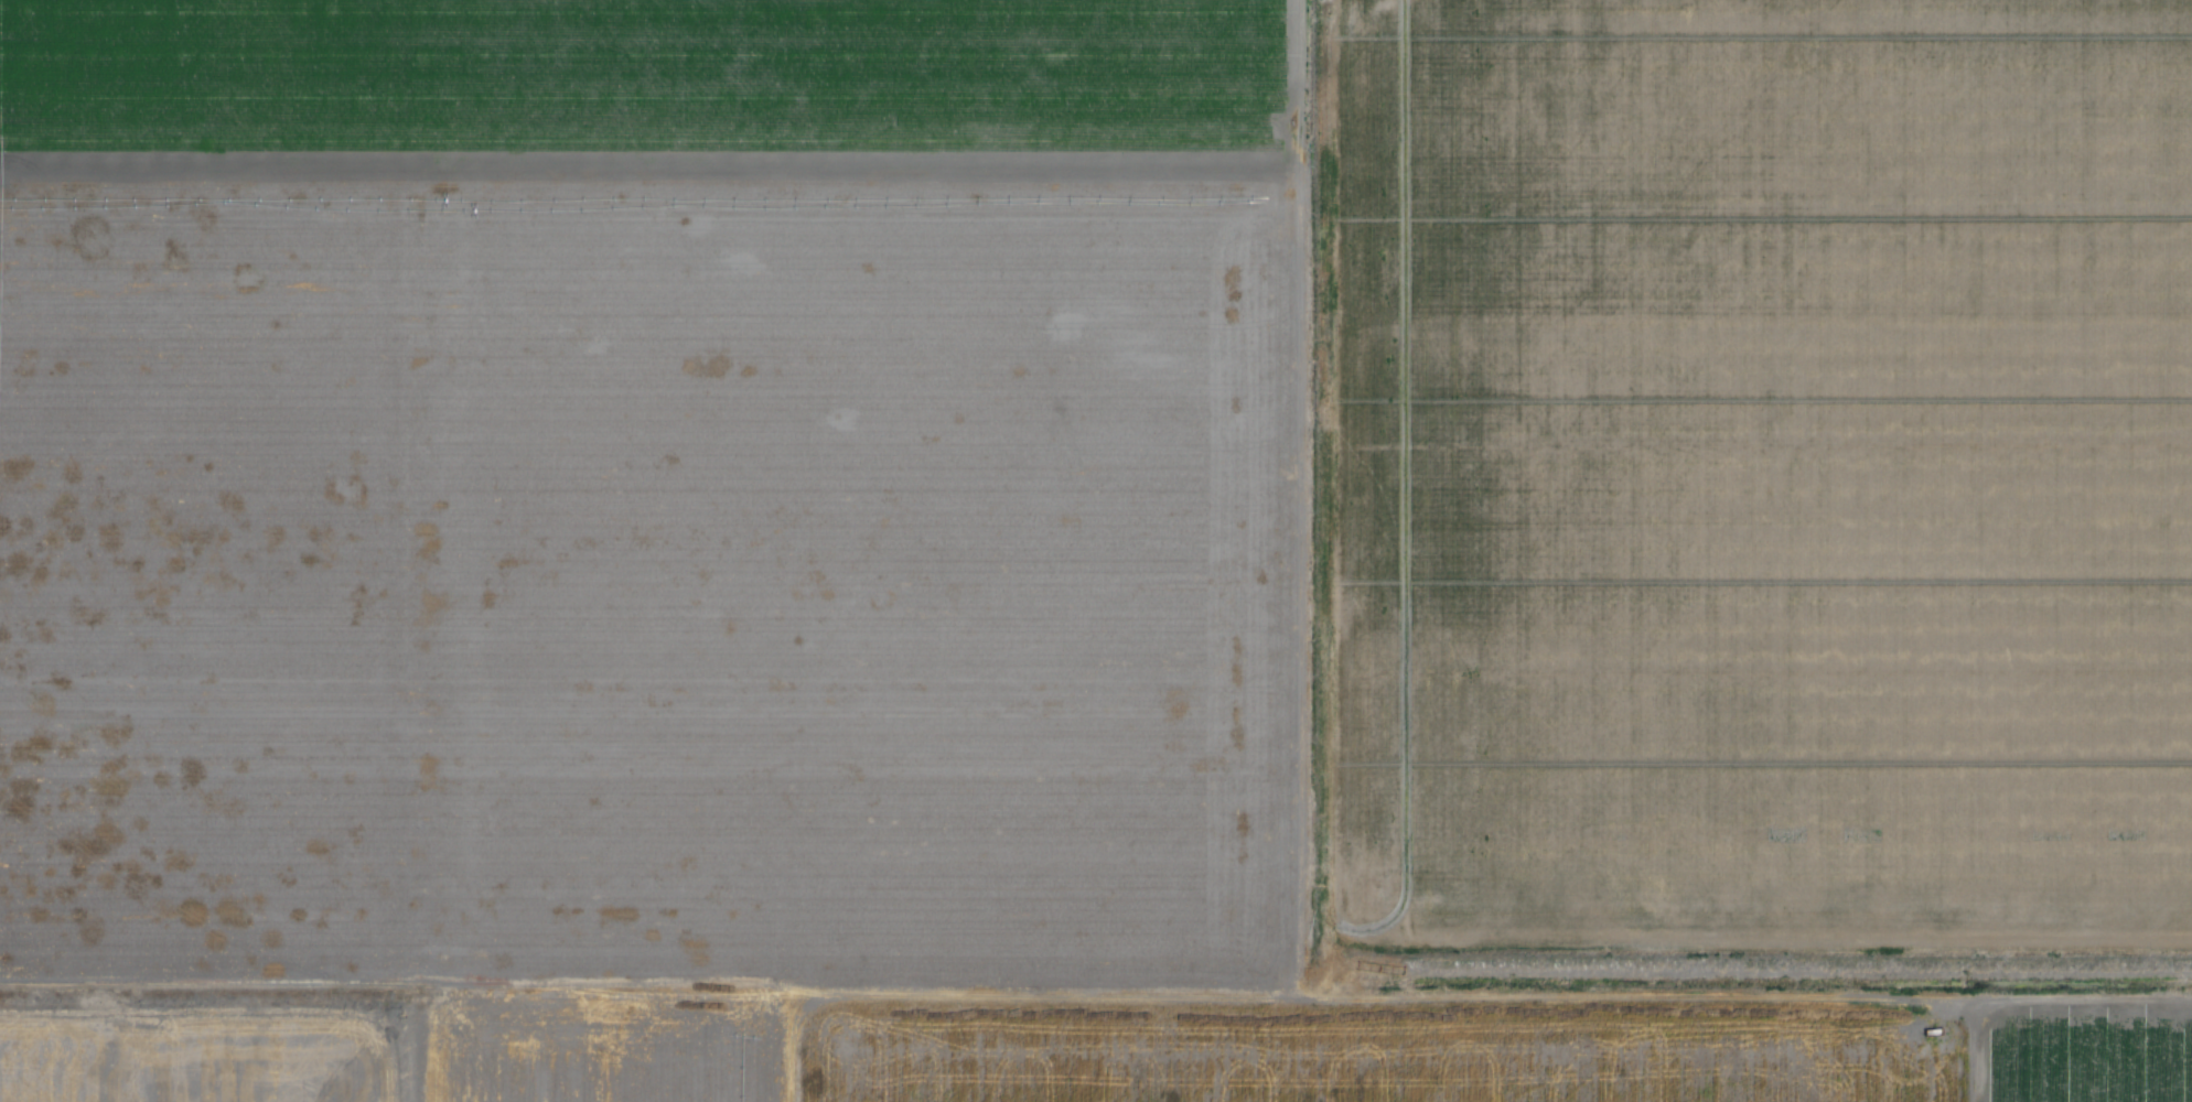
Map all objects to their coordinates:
crop: (151, 69)
crop: (820, 73)
crop: (182, 418)
crop: (1758, 471)
crop: (844, 564)
crop: (183, 839)
crop: (1377, 1044)
crop: (599, 1055)
crop: (2088, 1056)
crop: (193, 1059)

